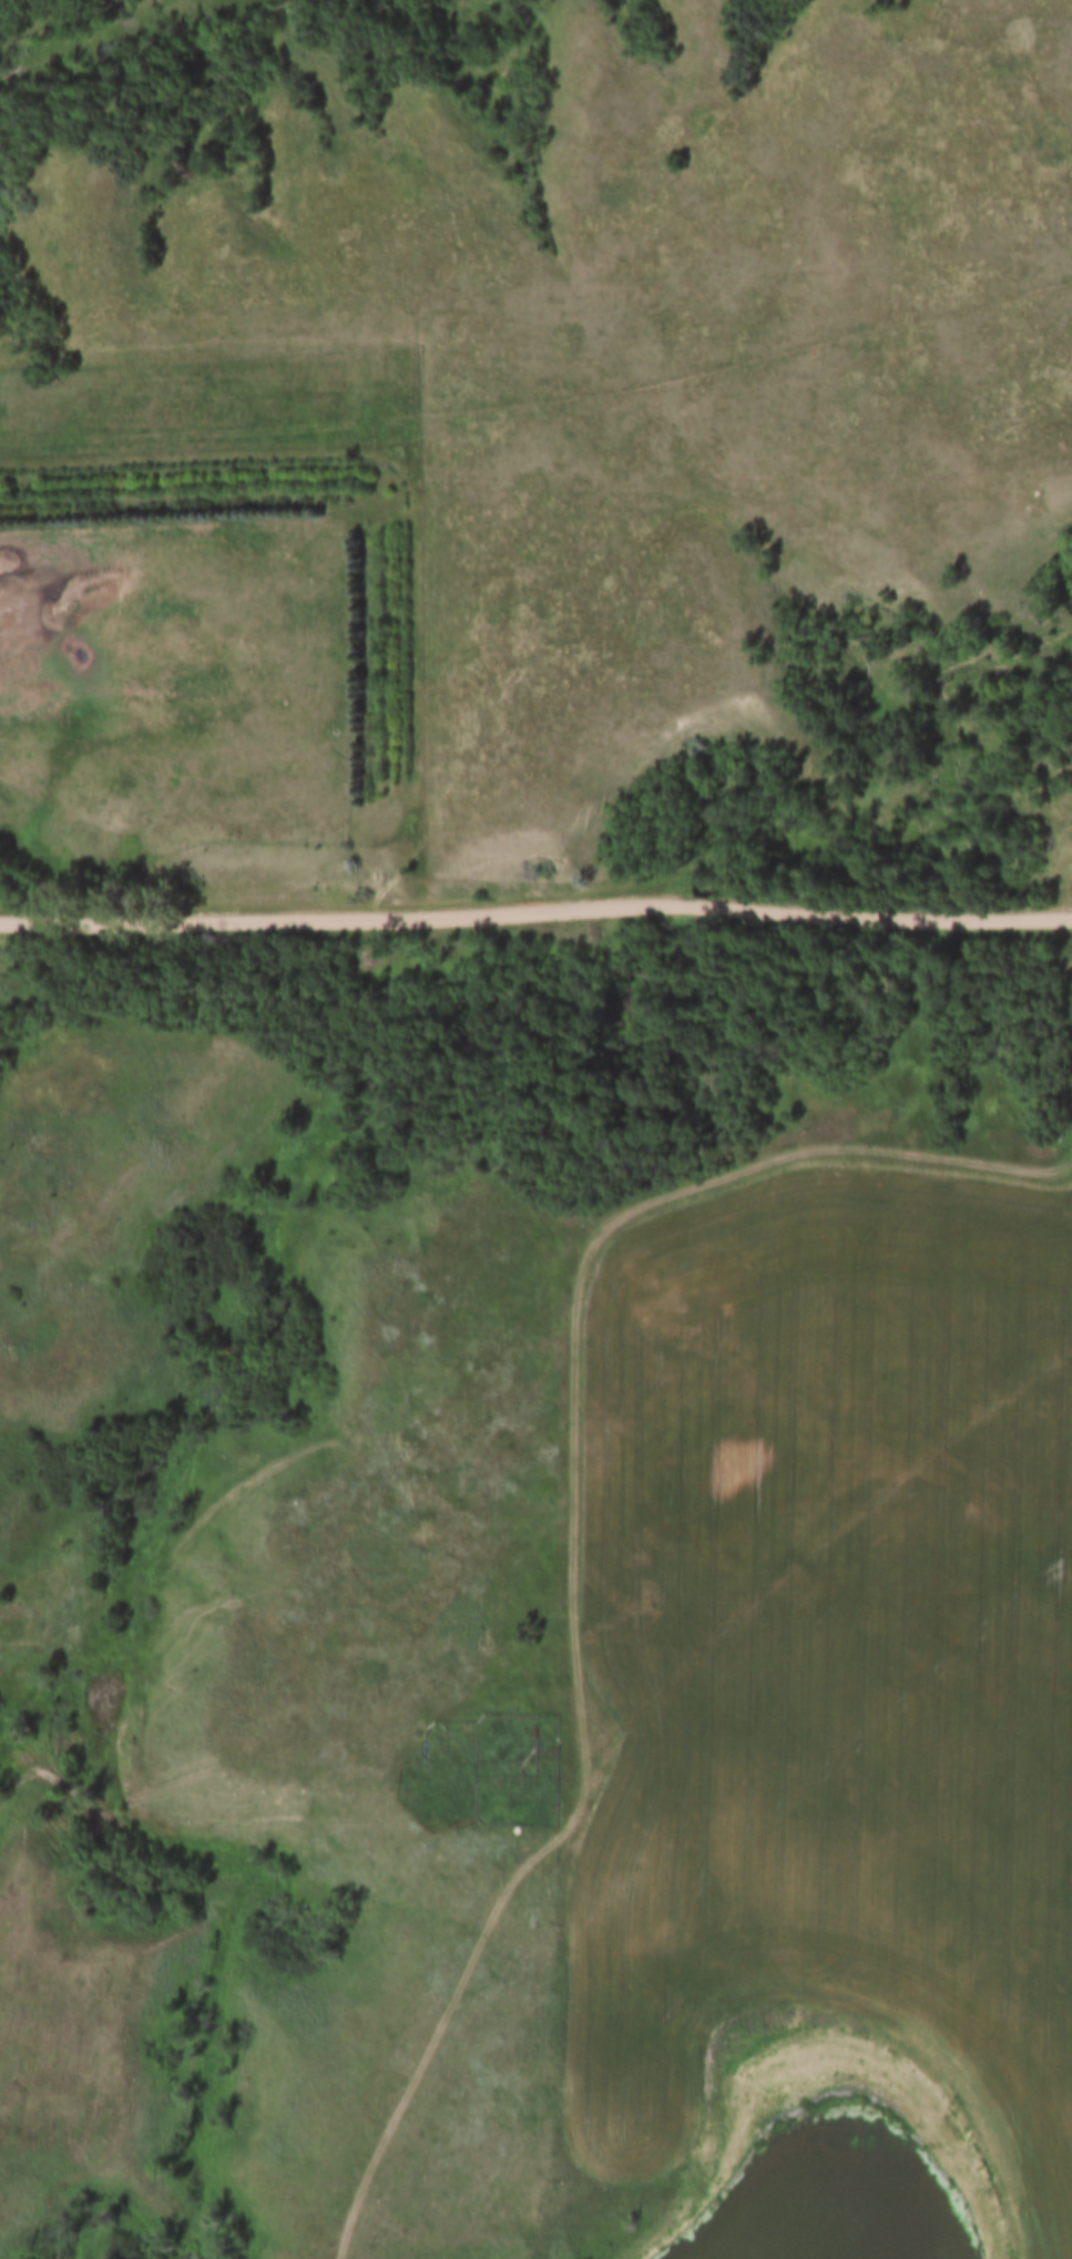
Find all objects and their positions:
road: (535, 916)

